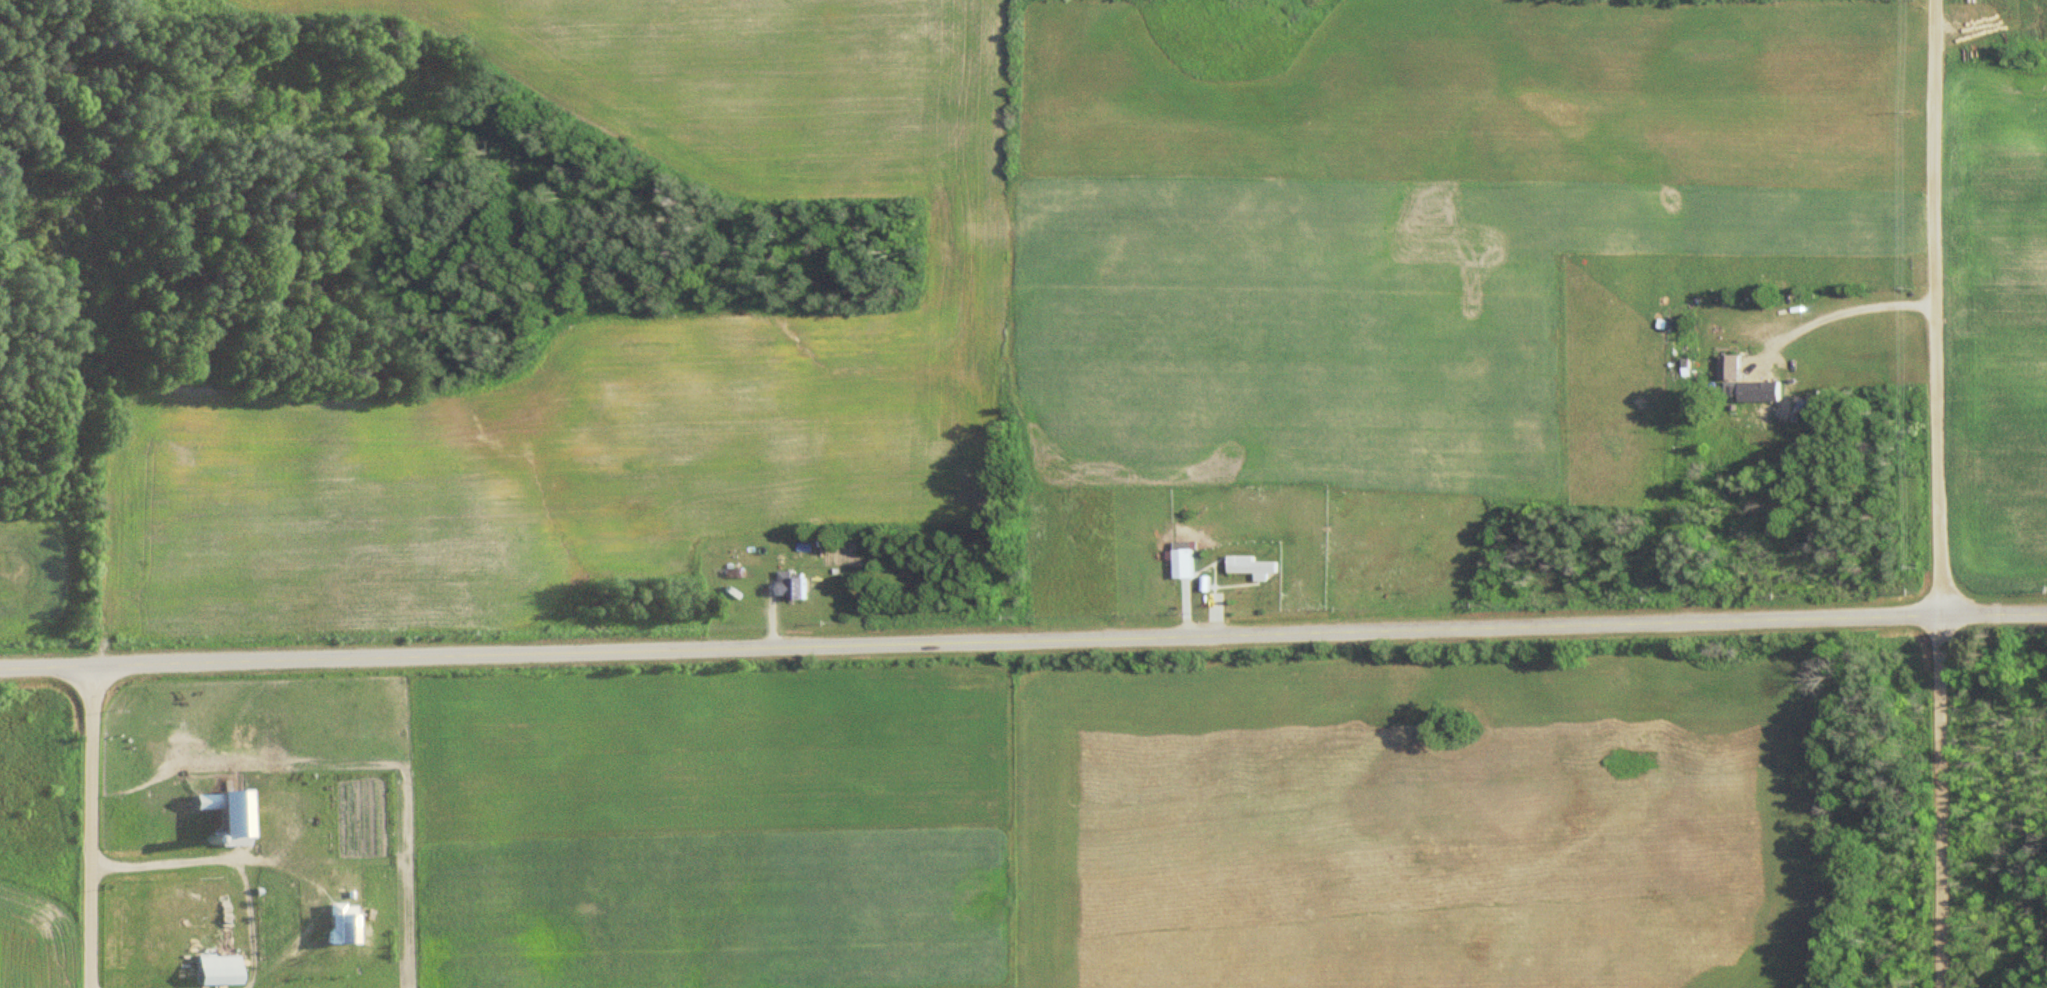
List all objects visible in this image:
building: (1736, 374)
road: (1938, 493)
building: (1187, 561)
building: (1254, 566)
building: (798, 588)
road: (1023, 646)
building: (226, 813)
road: (86, 829)
road: (263, 858)
building: (346, 931)
building: (220, 970)

